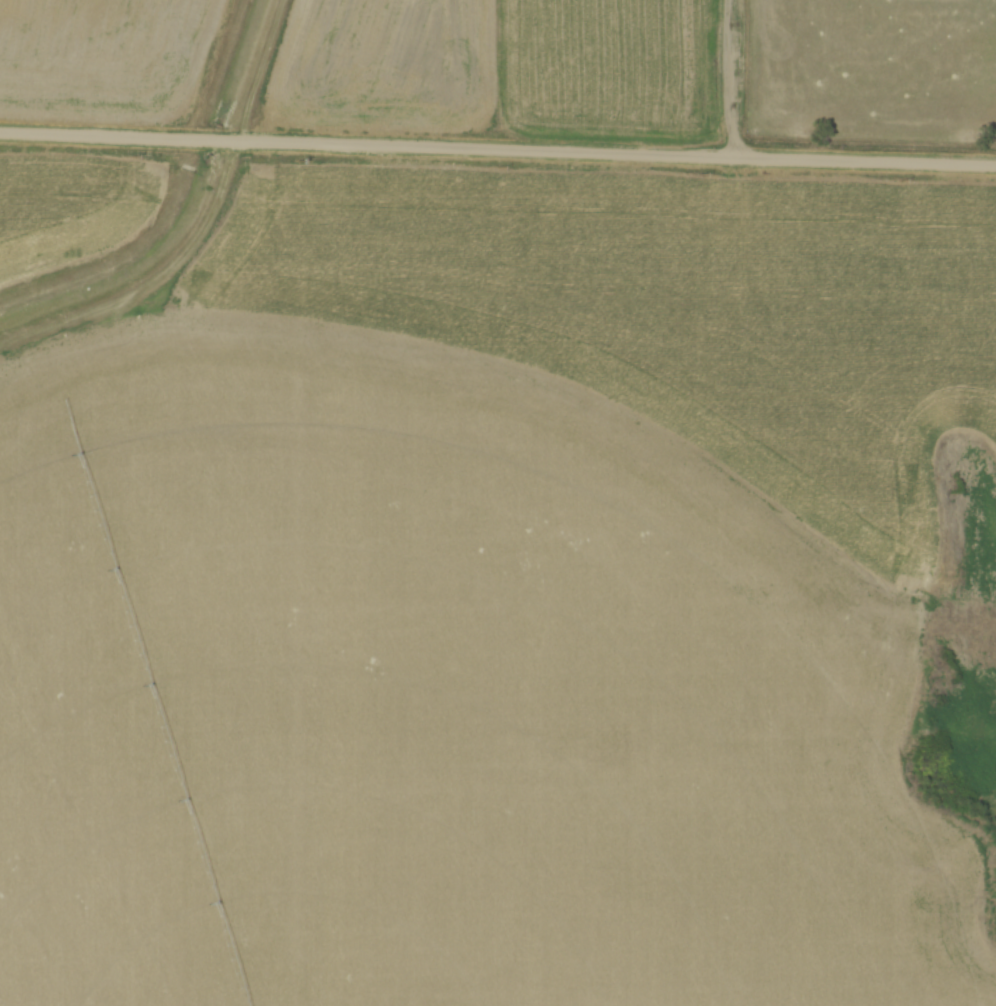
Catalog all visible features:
road: (735, 79)
road: (498, 150)
crop: (437, 706)

